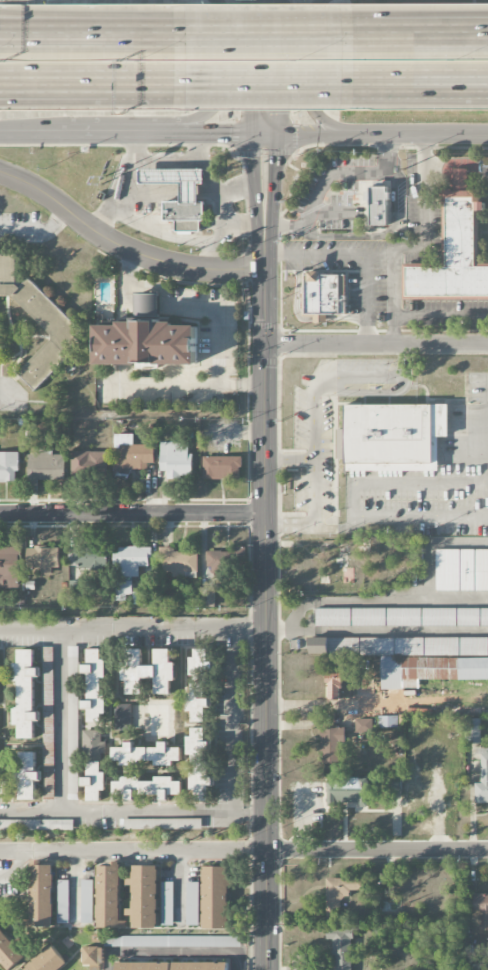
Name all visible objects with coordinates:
road: (74, 23)
road: (436, 29)
road: (161, 33)
road: (259, 33)
road: (74, 34)
road: (415, 34)
road: (251, 67)
road: (276, 67)
road: (220, 76)
road: (309, 79)
road: (476, 82)
road: (60, 83)
road: (404, 83)
road: (476, 83)
road: (147, 84)
road: (258, 84)
road: (60, 92)
traffic signals: (252, 109)
road: (215, 134)
road: (122, 135)
traffic signals: (233, 135)
road: (265, 135)
road: (316, 135)
road: (422, 135)
road: (34, 139)
traffic signals: (276, 155)
road: (166, 160)
road: (458, 163)
road: (330, 176)
road: (121, 185)
road: (236, 192)
building: (191, 193)
gas station: (191, 193)
road: (217, 201)
road: (256, 203)
road: (274, 203)
building: (379, 207)
road: (238, 224)
road: (36, 228)
road: (162, 232)
road: (422, 240)
road: (124, 247)
building: (453, 251)
road: (328, 255)
road: (154, 287)
building: (325, 294)
building: (147, 307)
building: (47, 314)
road: (367, 314)
road: (440, 316)
road: (220, 324)
road: (392, 330)
road: (248, 341)
road: (282, 342)
building: (147, 343)
traffic signals: (266, 344)
road: (377, 344)
road: (315, 388)
building: (392, 436)
building: (132, 453)
building: (176, 460)
building: (89, 463)
building: (8, 466)
building: (45, 468)
building: (222, 468)
road: (352, 498)
road: (133, 514)
road: (312, 514)
road: (337, 528)
building: (43, 559)
building: (90, 560)
building: (132, 561)
building: (177, 562)
building: (221, 562)
building: (462, 570)
building: (9, 576)
building: (124, 591)
building: (207, 597)
road: (458, 598)
road: (407, 599)
building: (402, 616)
road: (267, 620)
road: (231, 623)
road: (97, 624)
road: (278, 629)
road: (389, 629)
road: (230, 635)
building: (413, 656)
building: (201, 662)
building: (73, 663)
building: (148, 671)
building: (95, 684)
building: (339, 687)
building: (26, 693)
building: (198, 702)
road: (339, 705)
building: (122, 716)
road: (59, 717)
building: (388, 722)
building: (48, 723)
building: (364, 726)
road: (229, 728)
building: (472, 731)
building: (94, 742)
building: (331, 745)
building: (146, 754)
building: (199, 764)
building: (71, 774)
building: (27, 775)
building: (94, 781)
building: (482, 782)
building: (0, 785)
building: (394, 785)
building: (146, 786)
building: (346, 791)
road: (122, 809)
road: (256, 810)
road: (298, 820)
building: (132, 824)
building: (36, 825)
road: (134, 845)
road: (378, 851)
building: (41, 893)
building: (109, 894)
building: (339, 894)
building: (145, 897)
building: (215, 897)
building: (63, 901)
building: (86, 902)
building: (168, 904)
building: (193, 904)
building: (481, 910)
building: (341, 948)
building: (9, 951)
road: (173, 951)
road: (257, 951)
road: (242, 952)
building: (93, 958)
building: (47, 961)
building: (143, 966)
building: (201, 966)

